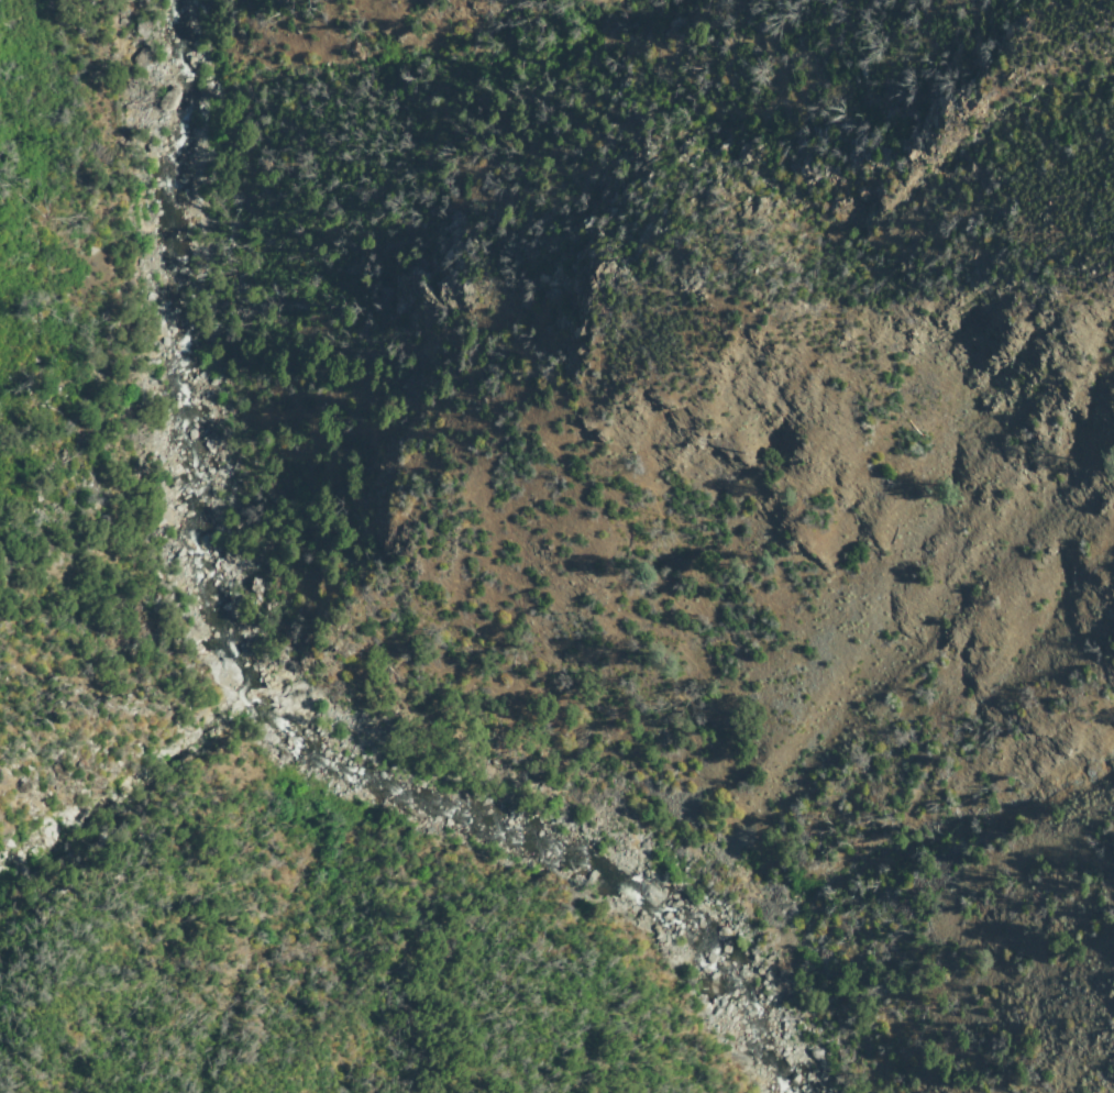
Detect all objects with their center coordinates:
river: (263, 684)

